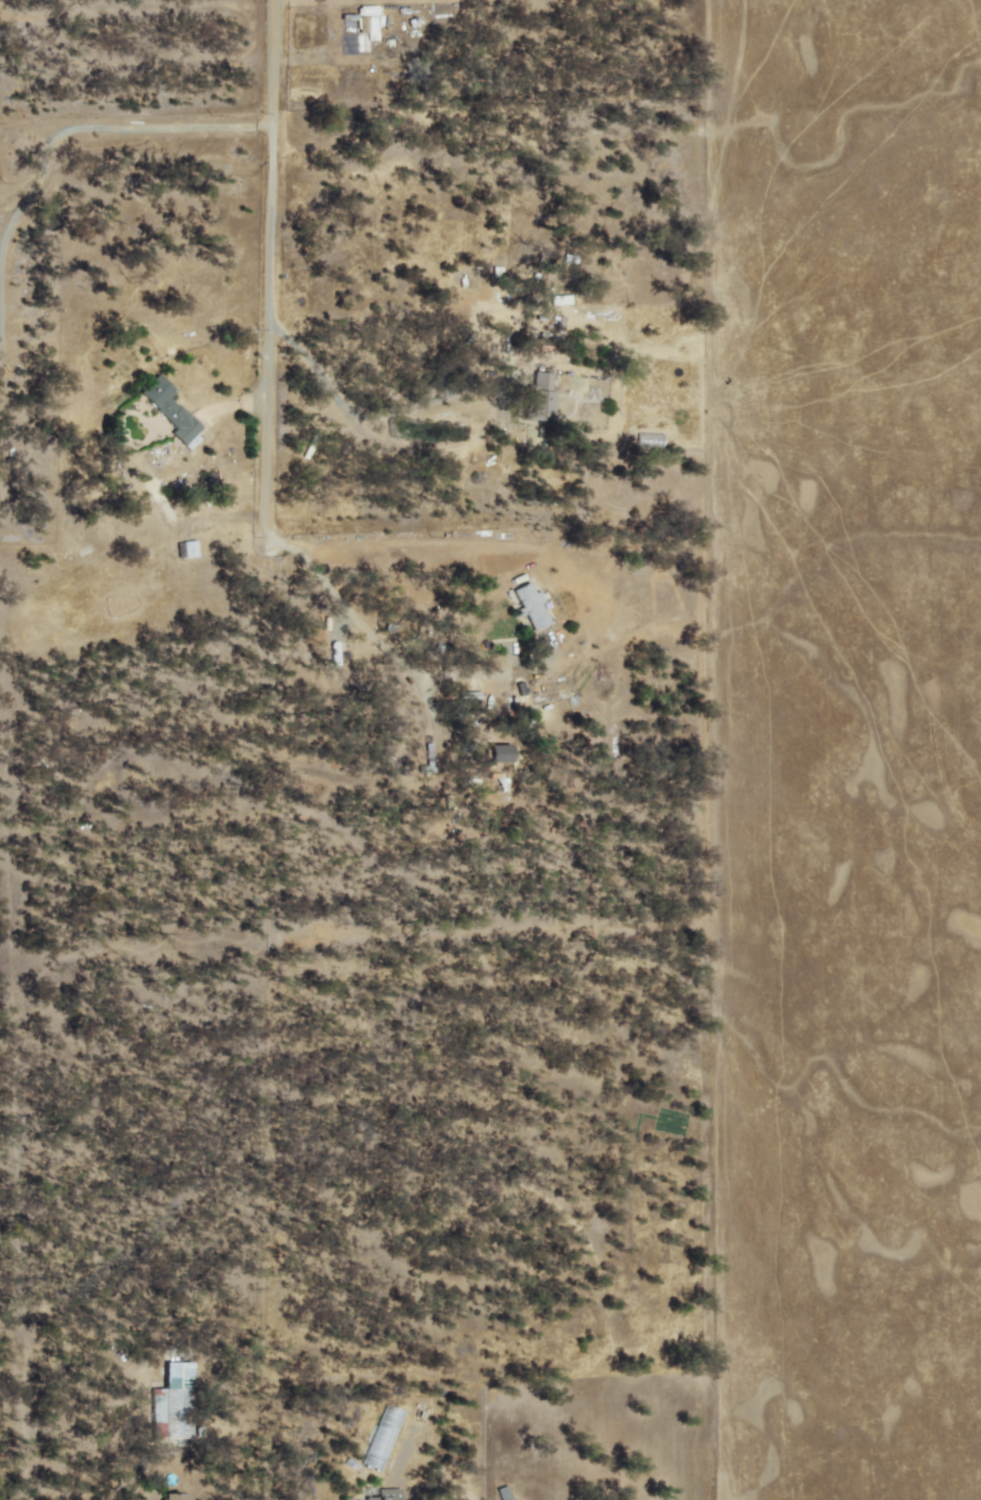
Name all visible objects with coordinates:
building: (367, 21)
road: (279, 78)
road: (109, 124)
building: (559, 300)
road: (275, 348)
building: (540, 398)
building: (172, 412)
road: (370, 415)
building: (649, 440)
building: (530, 606)
road: (382, 645)
building: (499, 757)
building: (427, 764)
building: (173, 1403)
building: (382, 1438)
building: (385, 1494)
building: (173, 1496)

